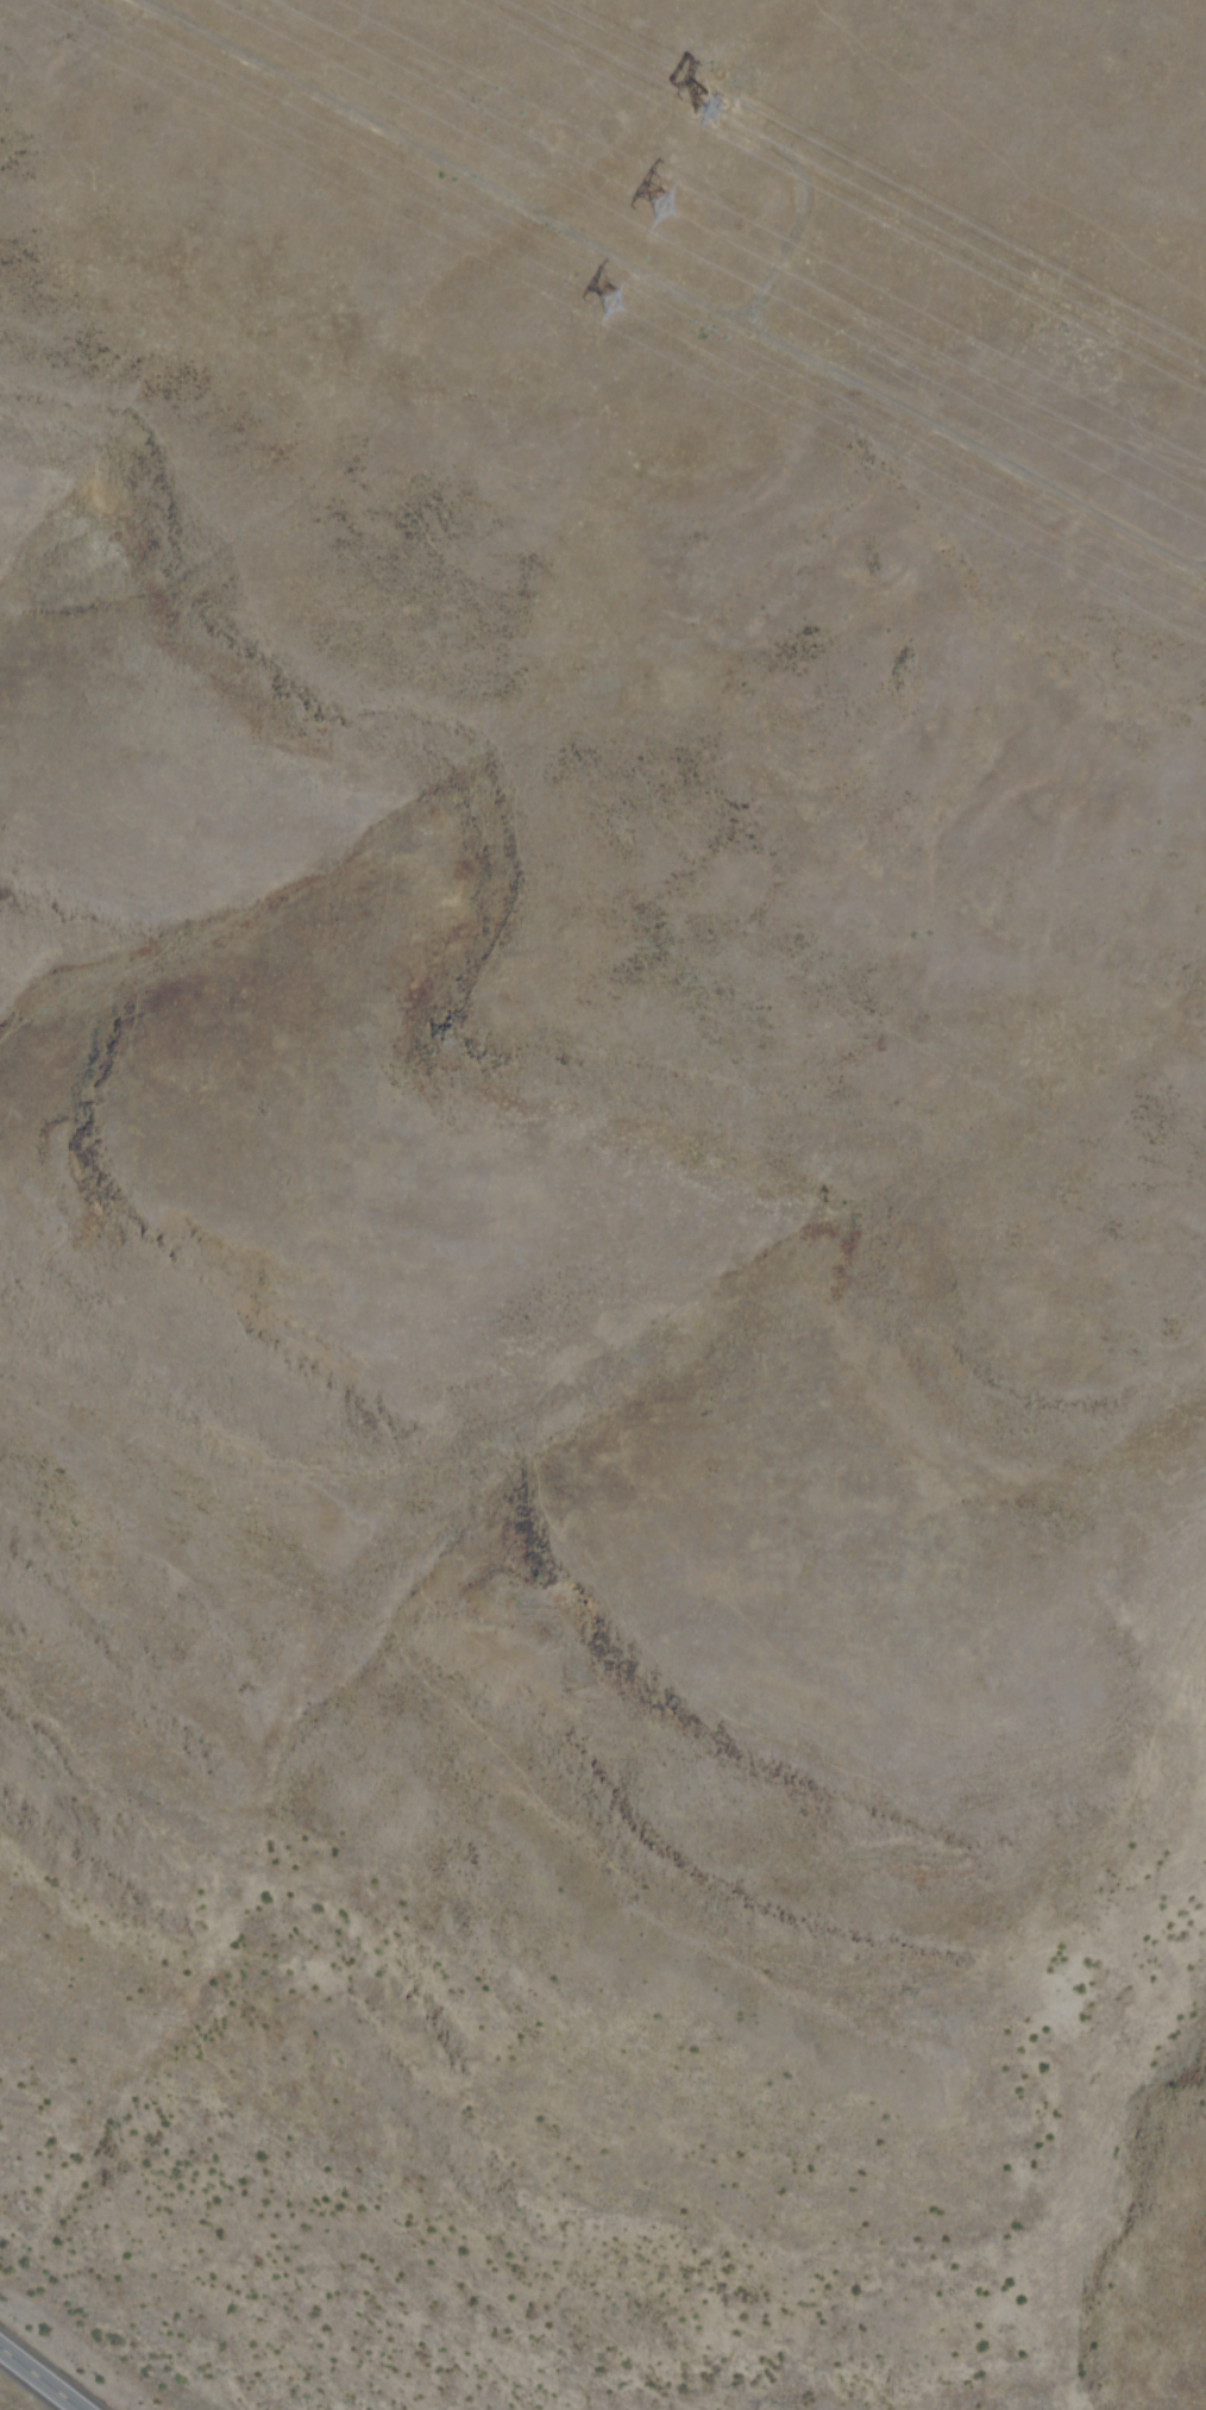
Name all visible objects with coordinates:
power tower: (701, 99)
power tower: (670, 204)
power tower: (614, 303)
road: (46, 2374)

